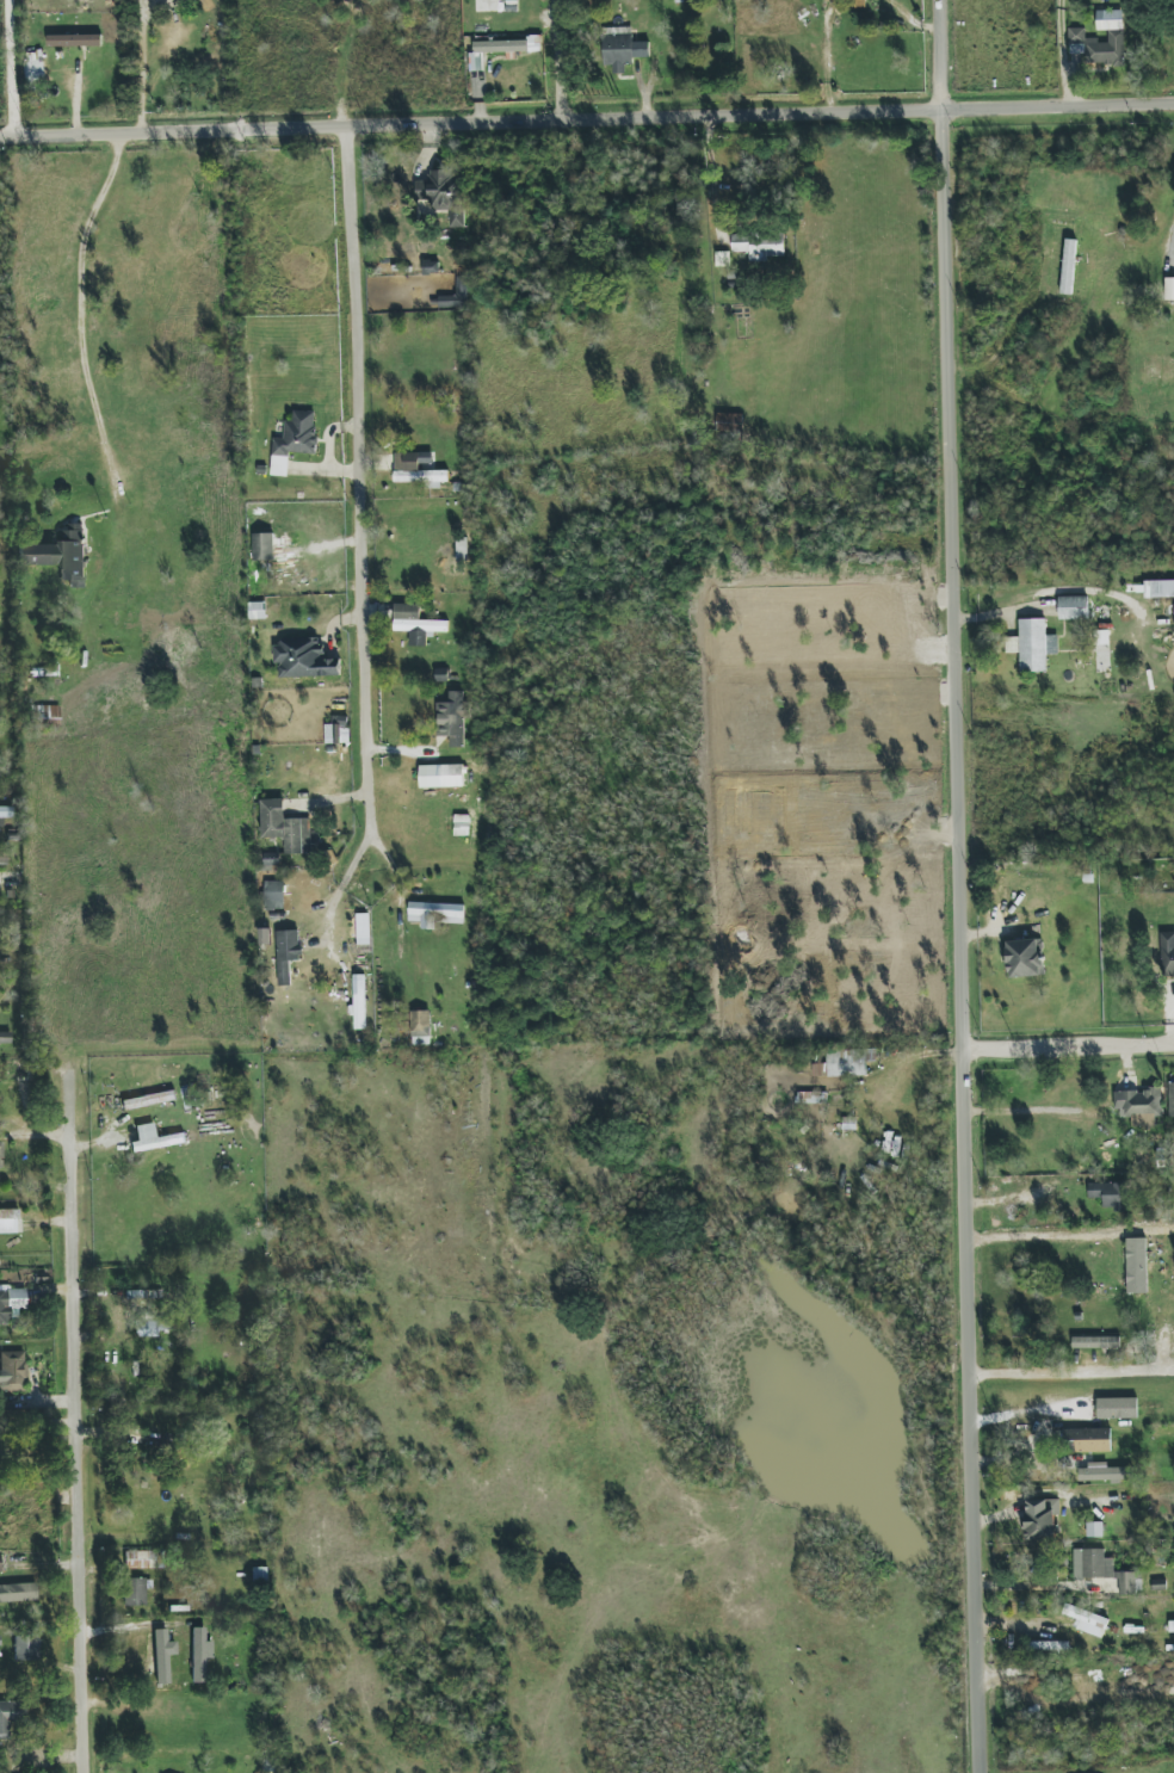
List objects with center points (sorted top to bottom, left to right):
building: (1101, 39)
building: (75, 41)
building: (509, 45)
building: (623, 48)
road: (1062, 52)
road: (758, 56)
road: (574, 58)
road: (354, 61)
road: (14, 67)
road: (142, 67)
road: (586, 116)
road: (710, 174)
building: (444, 194)
road: (1173, 234)
building: (759, 245)
building: (1068, 267)
building: (1169, 289)
building: (457, 295)
road: (85, 323)
building: (729, 422)
building: (293, 440)
building: (419, 469)
road: (358, 477)
building: (264, 546)
building: (60, 555)
building: (1158, 588)
road: (1051, 594)
building: (1074, 607)
building: (257, 611)
building: (416, 624)
building: (1033, 644)
building: (304, 659)
building: (443, 674)
building: (45, 717)
building: (452, 718)
building: (338, 730)
building: (441, 776)
building: (5, 813)
building: (461, 824)
building: (285, 827)
road: (966, 885)
building: (274, 895)
building: (435, 914)
building: (363, 926)
building: (265, 937)
building: (288, 953)
building: (1167, 953)
building: (1025, 958)
building: (359, 1002)
building: (420, 1027)
road: (1071, 1040)
building: (844, 1063)
building: (1170, 1096)
building: (811, 1098)
building: (148, 1100)
building: (1139, 1106)
road: (1025, 1110)
building: (154, 1138)
building: (0, 1159)
building: (1108, 1194)
building: (8, 1221)
road: (1039, 1238)
building: (1136, 1266)
building: (11, 1303)
building: (146, 1329)
building: (1095, 1342)
building: (12, 1371)
road: (1075, 1373)
building: (1117, 1408)
road: (72, 1426)
building: (1086, 1440)
building: (1105, 1474)
road: (1074, 1505)
building: (1042, 1519)
building: (1094, 1530)
building: (146, 1559)
building: (0, 1562)
building: (1104, 1570)
road: (1032, 1586)
building: (135, 1592)
building: (18, 1593)
building: (1087, 1620)
building: (1172, 1625)
road: (132, 1626)
building: (1049, 1645)
building: (26, 1648)
building: (161, 1650)
building: (199, 1651)
building: (10, 1716)

